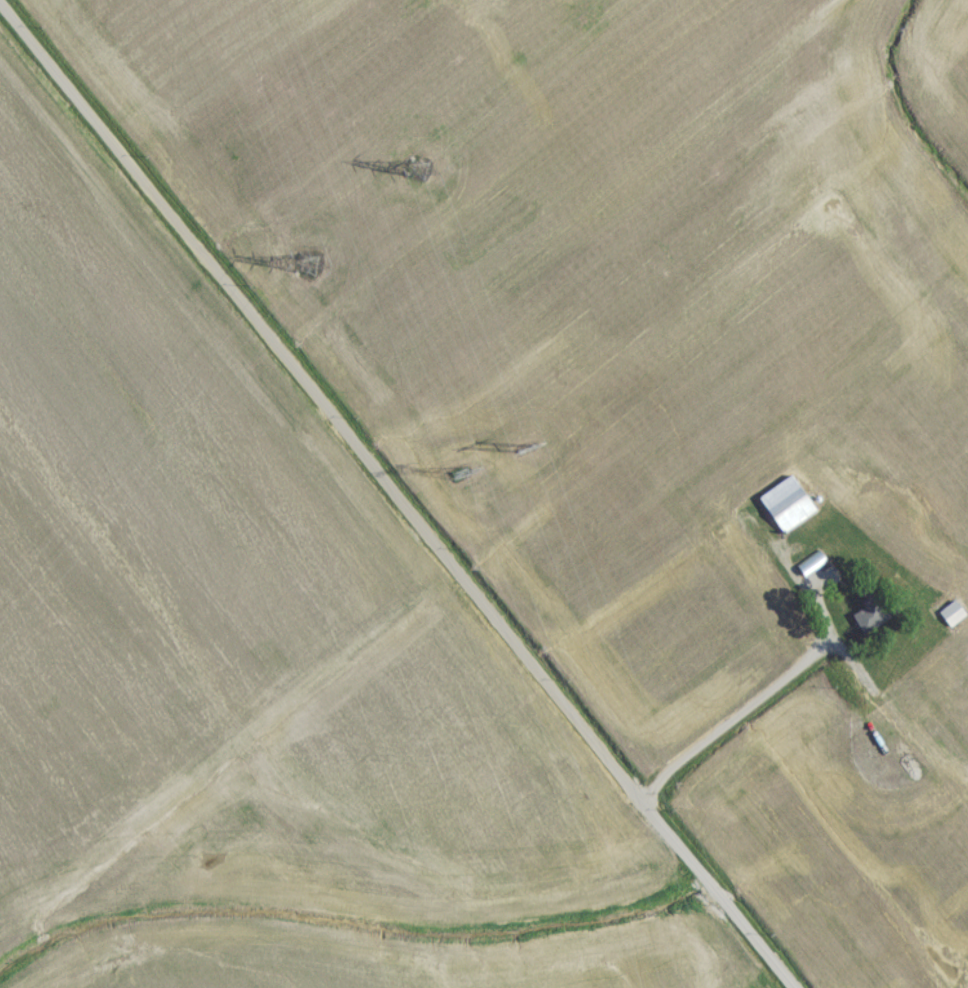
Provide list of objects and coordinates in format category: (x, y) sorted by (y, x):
power tower: (413, 176)
power tower: (298, 272)
power tower: (518, 454)
power tower: (456, 480)
road: (392, 496)
building: (934, 501)
building: (785, 511)
building: (949, 620)
building: (868, 624)
road: (772, 686)

